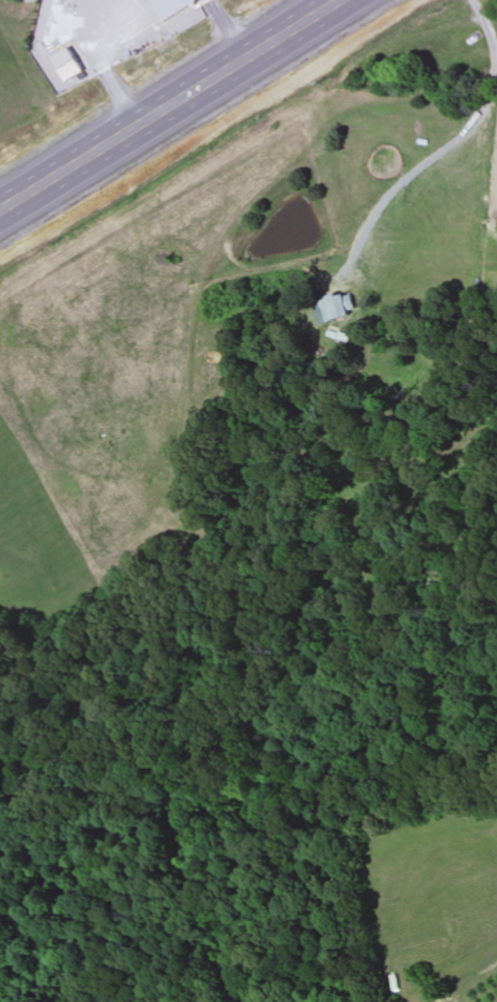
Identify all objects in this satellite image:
building: (173, 8)
road: (171, 106)
building: (335, 310)

